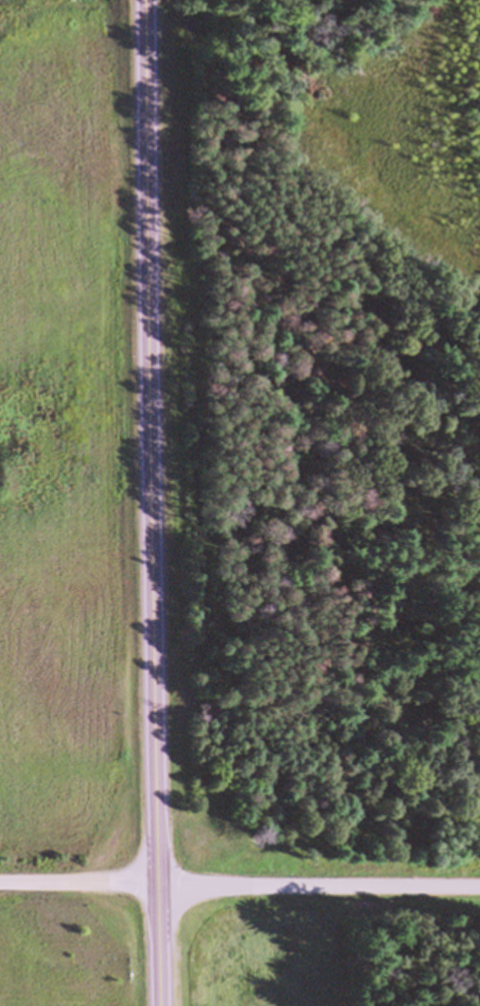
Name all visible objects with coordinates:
road: (150, 503)
road: (240, 883)

